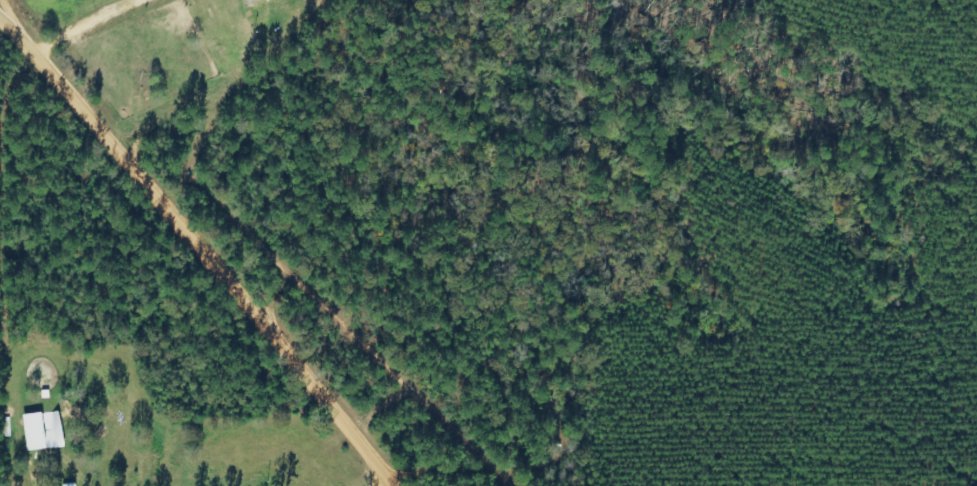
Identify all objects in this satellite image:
building: (253, 1)
road: (194, 256)

